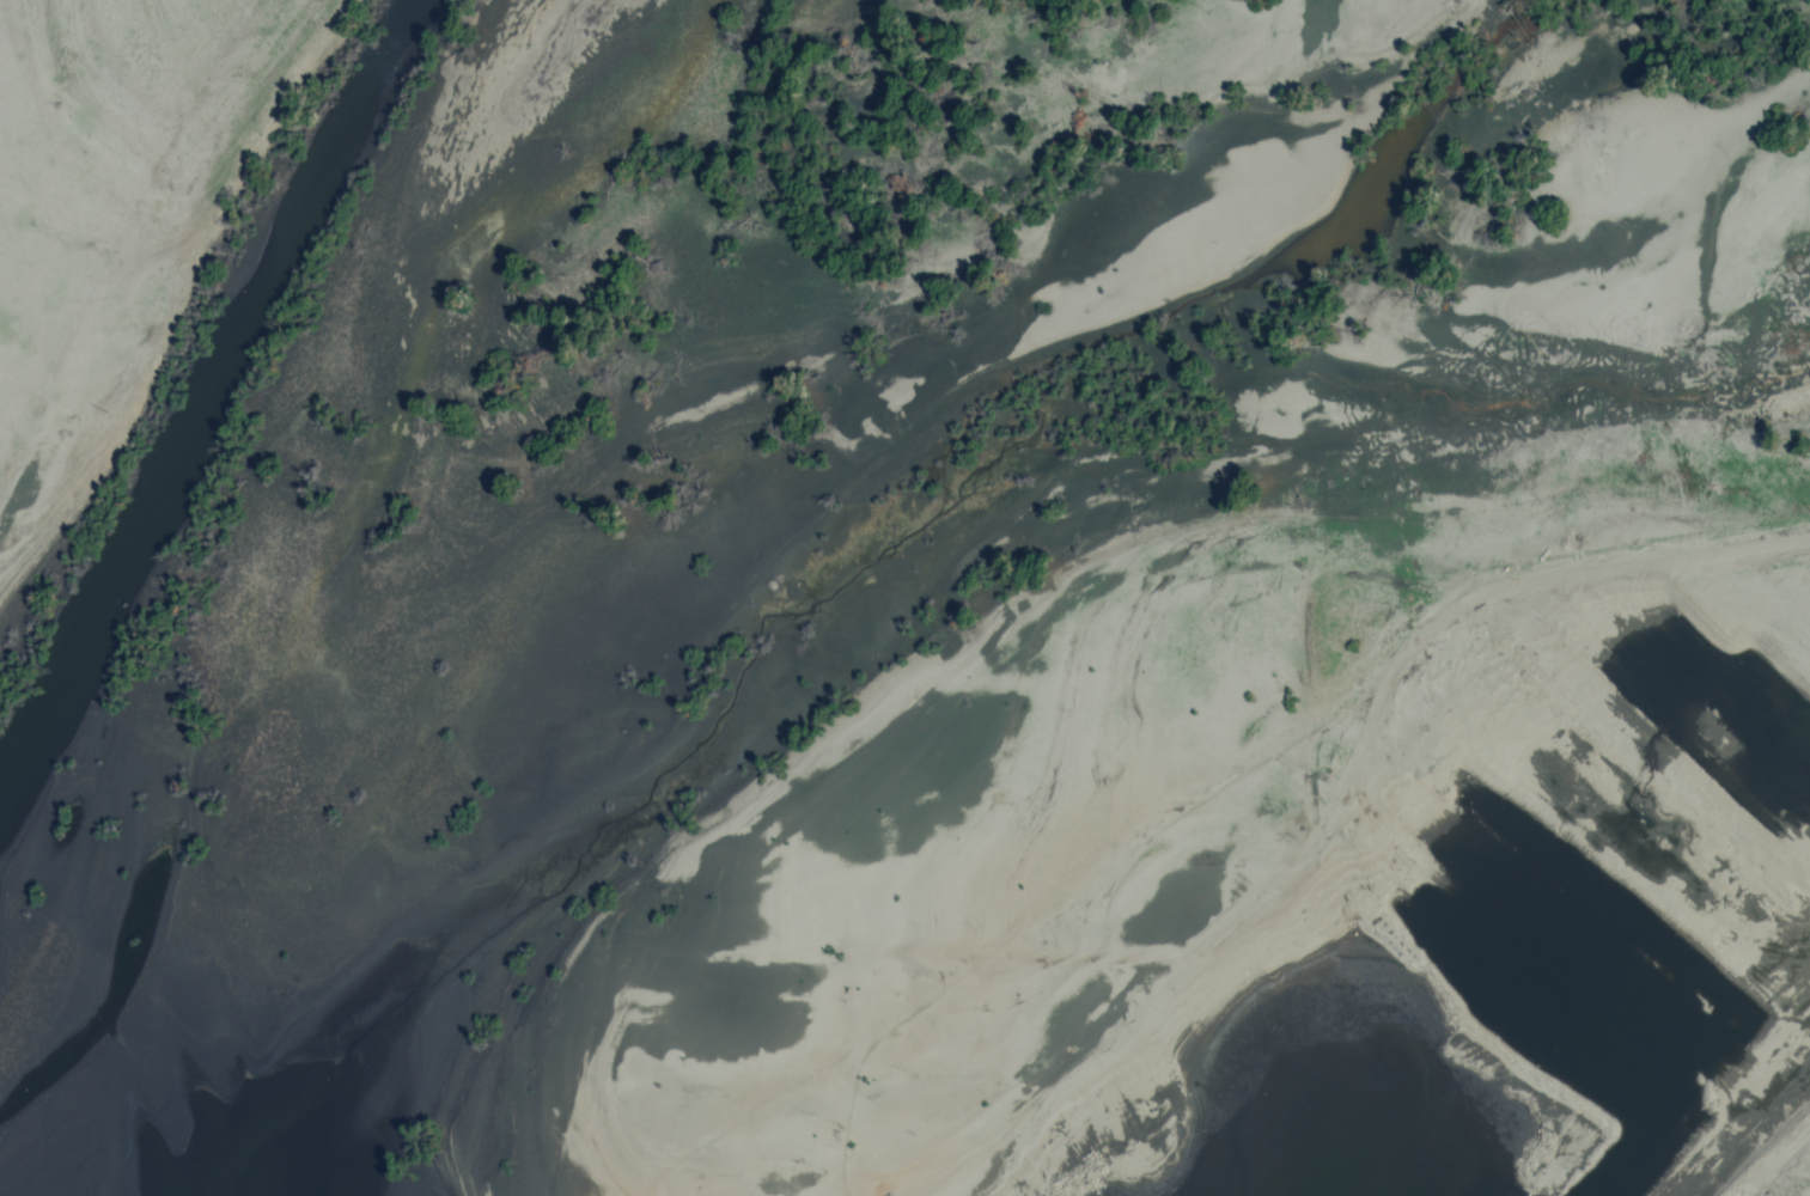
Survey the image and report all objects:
river: (221, 390)

